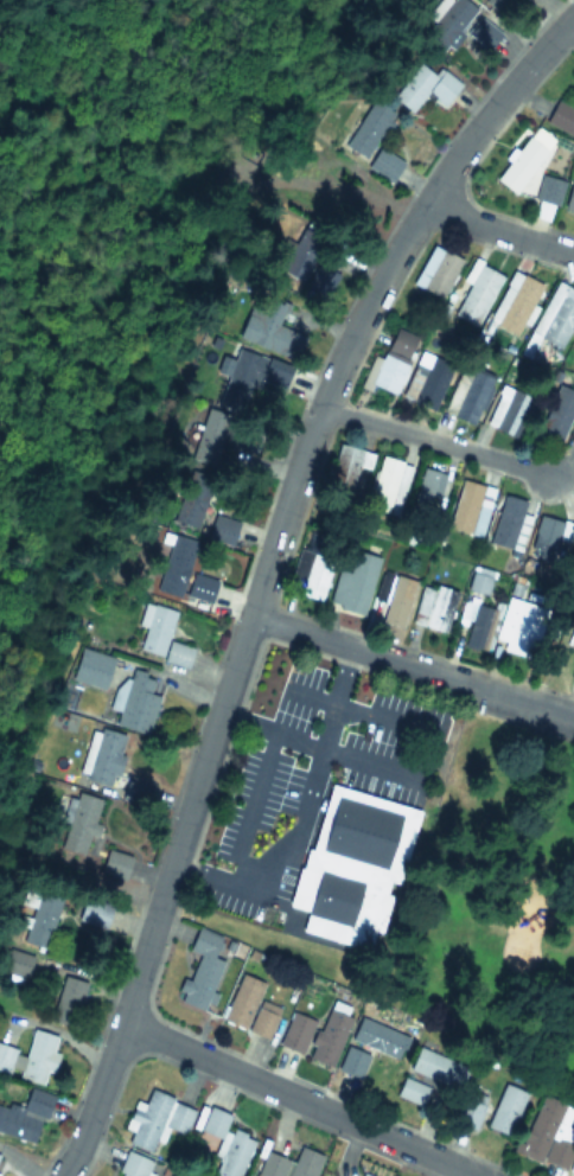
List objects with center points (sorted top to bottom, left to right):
building: (464, 30)
building: (423, 87)
building: (561, 117)
building: (369, 129)
building: (383, 164)
building: (519, 164)
building: (548, 190)
building: (569, 198)
road: (498, 230)
building: (436, 270)
building: (308, 273)
building: (477, 294)
building: (515, 302)
building: (555, 315)
building: (267, 326)
building: (389, 364)
building: (253, 373)
building: (426, 379)
building: (471, 395)
building: (508, 409)
building: (554, 416)
building: (209, 439)
building: (572, 440)
road: (436, 441)
building: (346, 466)
building: (384, 484)
building: (470, 507)
building: (186, 510)
building: (506, 520)
building: (221, 529)
building: (553, 541)
building: (173, 564)
road: (266, 569)
building: (314, 577)
building: (478, 584)
building: (200, 587)
building: (352, 587)
building: (393, 596)
building: (433, 607)
building: (479, 626)
building: (160, 634)
road: (412, 666)
building: (91, 669)
building: (573, 673)
building: (138, 702)
road: (361, 708)
road: (323, 744)
building: (102, 756)
road: (304, 806)
building: (77, 822)
building: (352, 865)
park: (496, 900)
building: (40, 920)
building: (17, 965)
building: (200, 970)
building: (69, 997)
building: (249, 1008)
building: (296, 1028)
building: (329, 1037)
building: (369, 1047)
building: (5, 1056)
building: (39, 1057)
building: (438, 1068)
building: (410, 1091)
road: (301, 1098)
building: (504, 1110)
building: (468, 1111)
building: (25, 1116)
building: (155, 1119)
building: (548, 1133)
building: (225, 1144)
building: (288, 1164)
building: (134, 1165)
building: (364, 1175)

